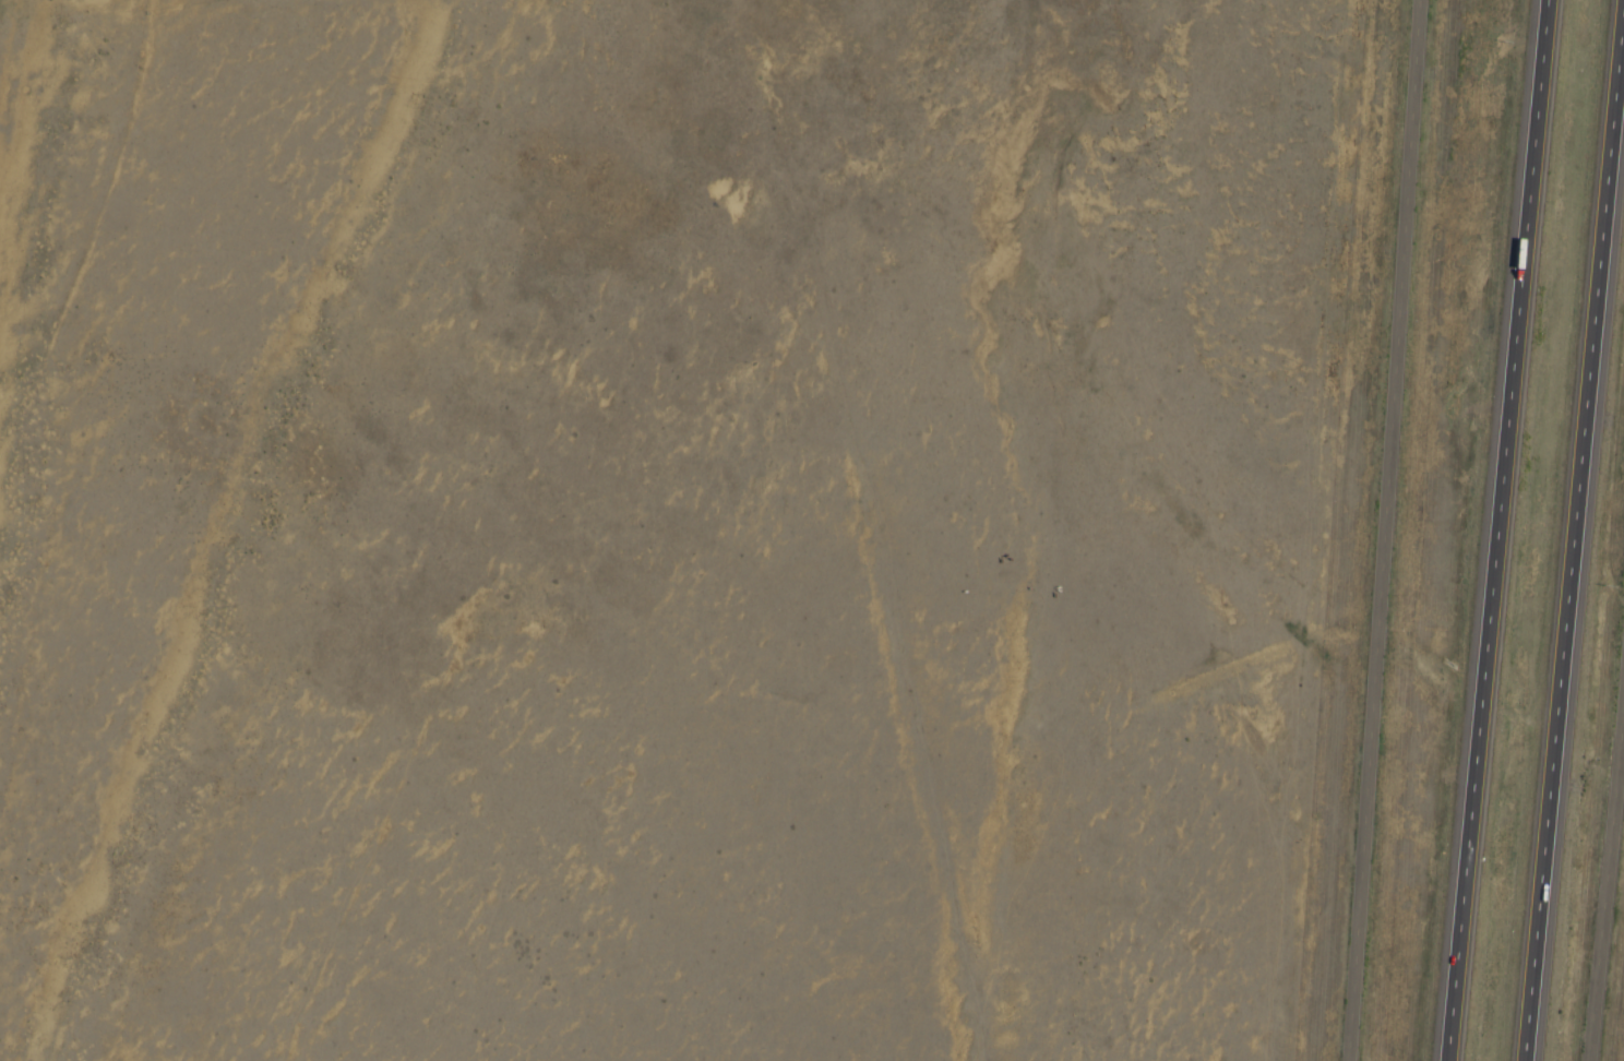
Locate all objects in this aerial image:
road: (11, 214)
road: (1568, 529)
road: (1380, 530)
road: (1493, 530)
road: (1607, 856)

